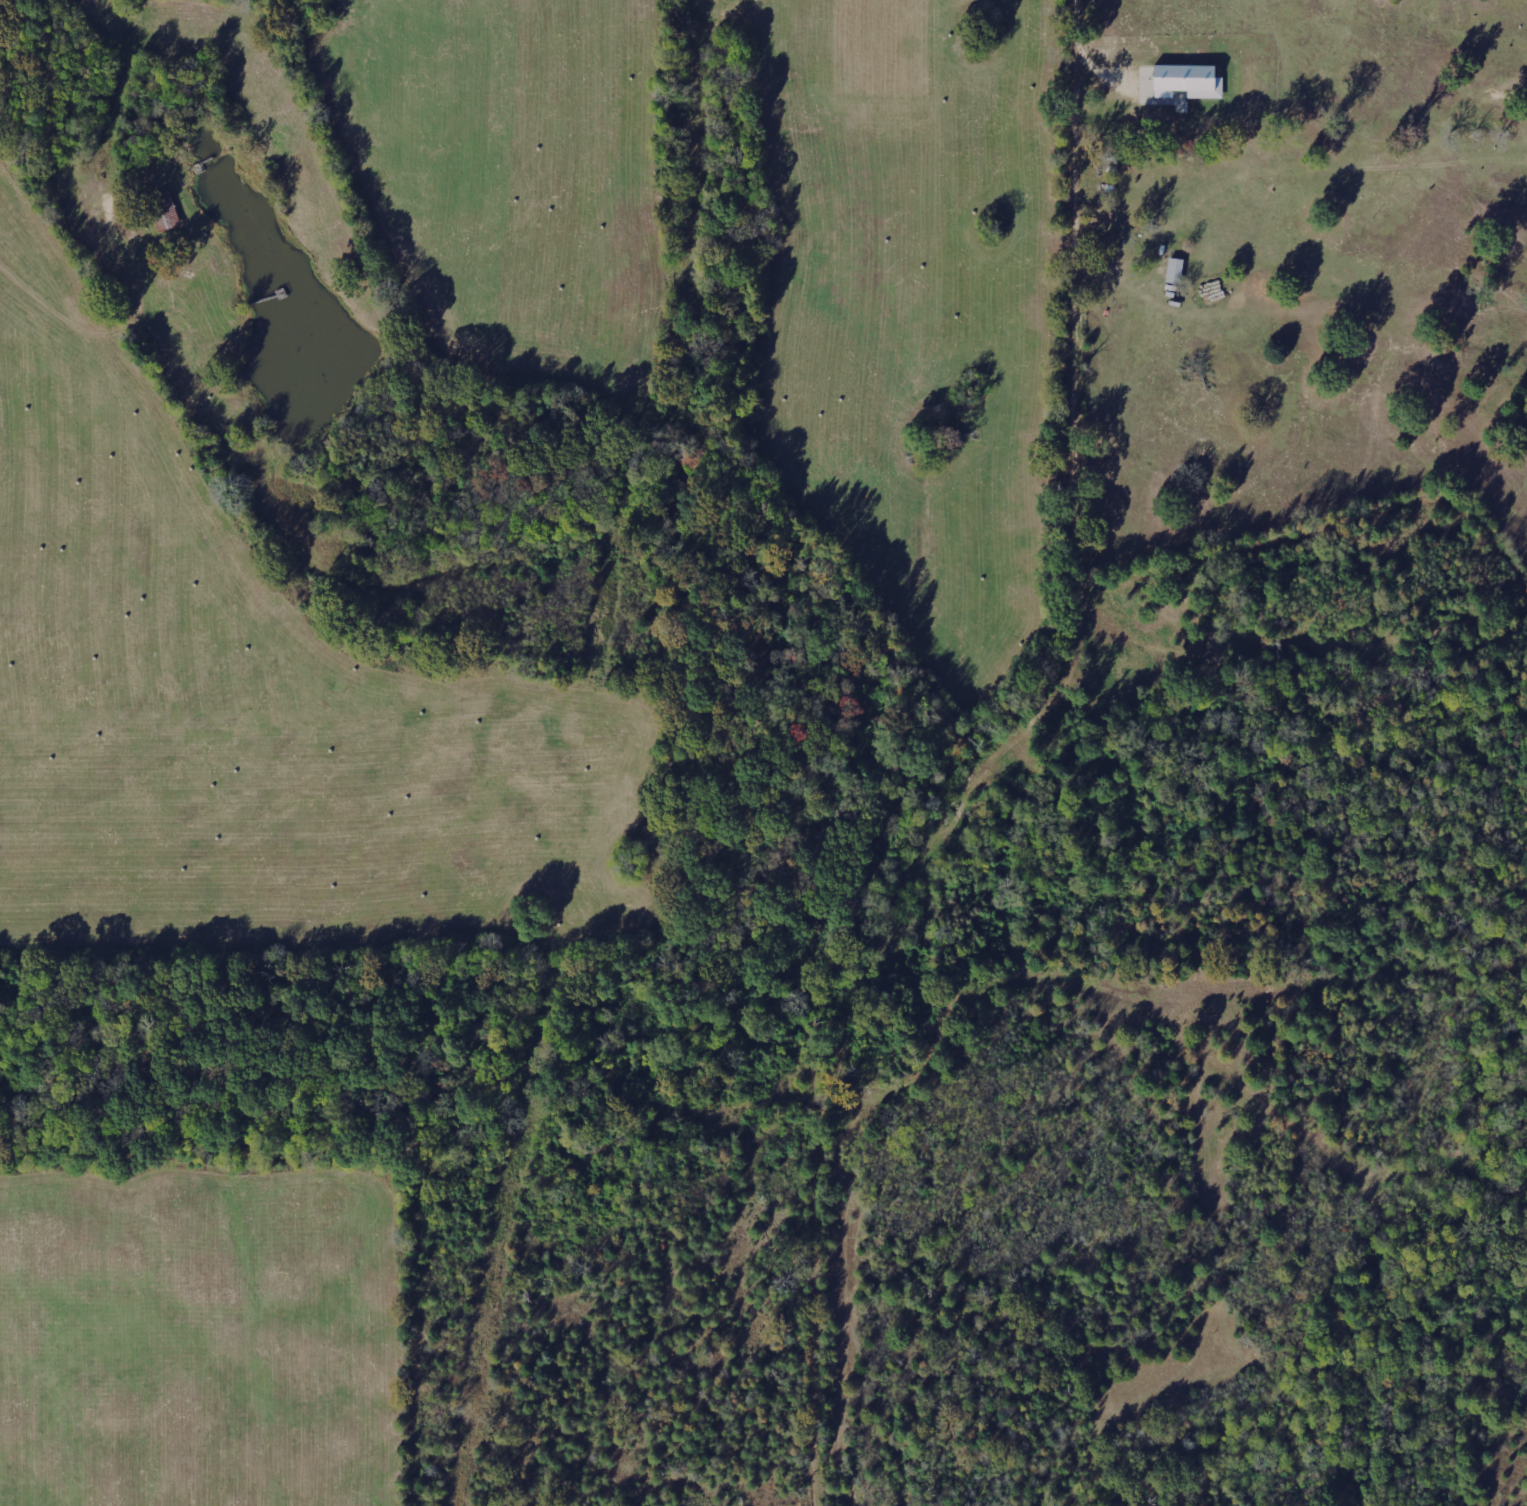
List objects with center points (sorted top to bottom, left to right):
building: (1193, 81)
building: (1179, 271)

